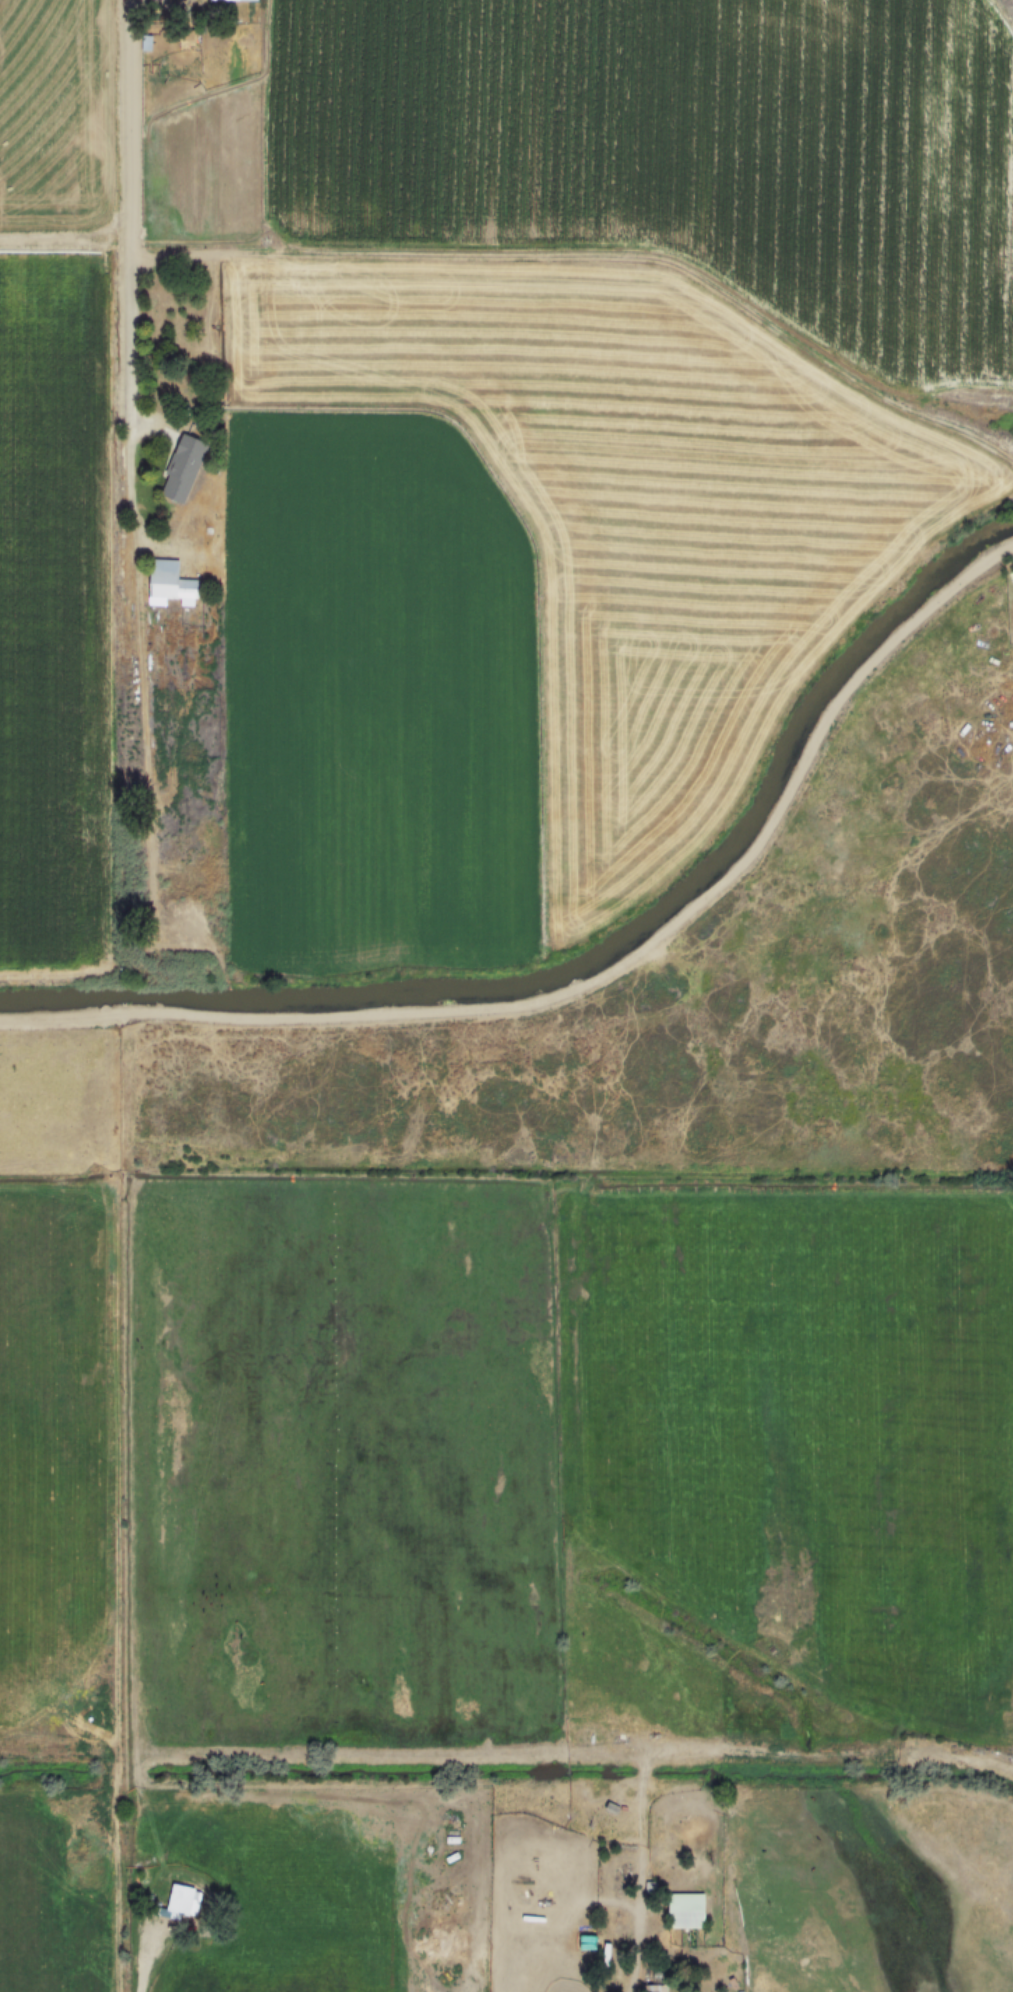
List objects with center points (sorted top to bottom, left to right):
building: (233, 0)
road: (121, 289)
building: (183, 468)
building: (169, 583)
road: (601, 981)
building: (183, 1901)
building: (687, 1909)
road: (146, 1958)
road: (642, 1986)
building: (652, 1987)

